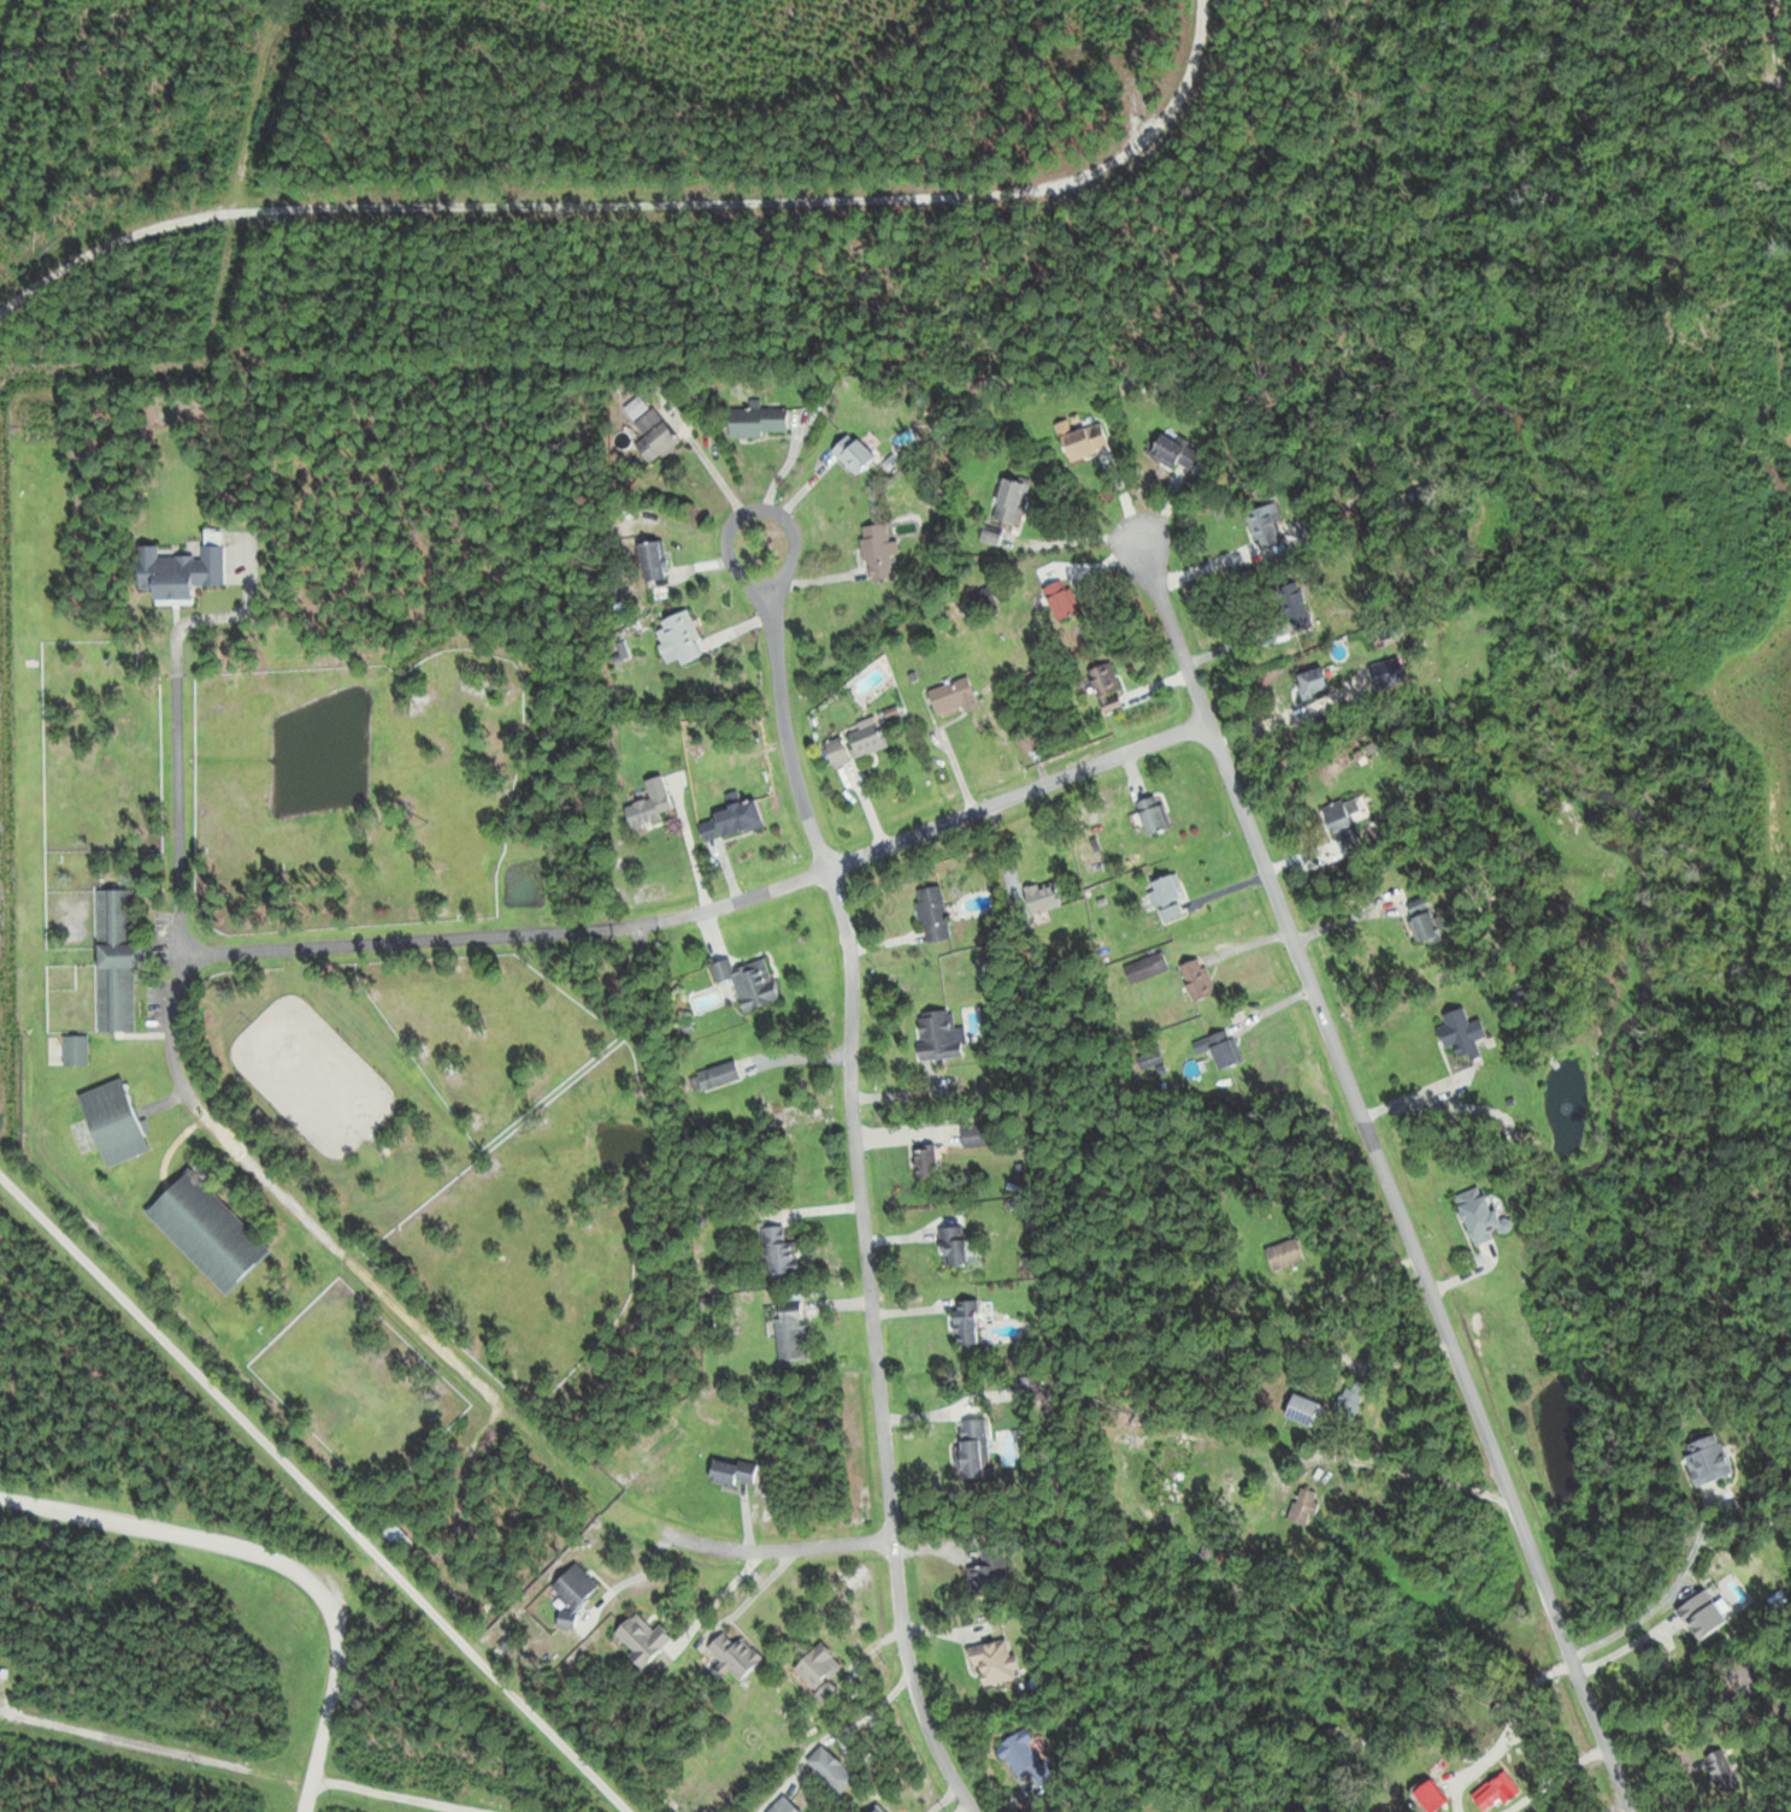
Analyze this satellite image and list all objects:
road: (1775, 45)
building: (756, 420)
building: (649, 425)
building: (1083, 442)
building: (1174, 453)
building: (852, 454)
building: (1008, 501)
building: (1262, 527)
building: (877, 551)
building: (650, 561)
building: (1056, 601)
building: (678, 638)
building: (1103, 680)
building: (1310, 683)
building: (954, 700)
building: (853, 744)
road: (177, 792)
building: (649, 804)
building: (1149, 816)
building: (729, 821)
building: (1339, 825)
road: (912, 837)
building: (1163, 892)
building: (1041, 897)
building: (931, 914)
building: (1421, 920)
road: (394, 940)
building: (1145, 967)
building: (1195, 979)
building: (749, 981)
building: (1459, 1034)
building: (936, 1035)
building: (1215, 1051)
building: (974, 1134)
building: (924, 1161)
road: (1380, 1163)
road: (859, 1180)
building: (1477, 1212)
building: (952, 1245)
building: (777, 1250)
building: (1284, 1253)
building: (964, 1321)
building: (789, 1330)
building: (1349, 1398)
building: (972, 1446)
building: (1707, 1462)
building: (1170, 1472)
road: (313, 1493)
road: (1408, 1503)
building: (1302, 1506)
road: (724, 1547)
road: (194, 1550)
building: (1231, 1557)
building: (982, 1577)
building: (573, 1590)
road: (1662, 1598)
building: (1702, 1613)
building: (641, 1639)
building: (732, 1655)
building: (992, 1660)
building: (815, 1672)
road: (337, 1700)
road: (1498, 1724)
building: (1023, 1765)
building: (830, 1769)
building: (1719, 1770)
building: (1430, 1796)
building: (782, 1806)
building: (873, 1808)

